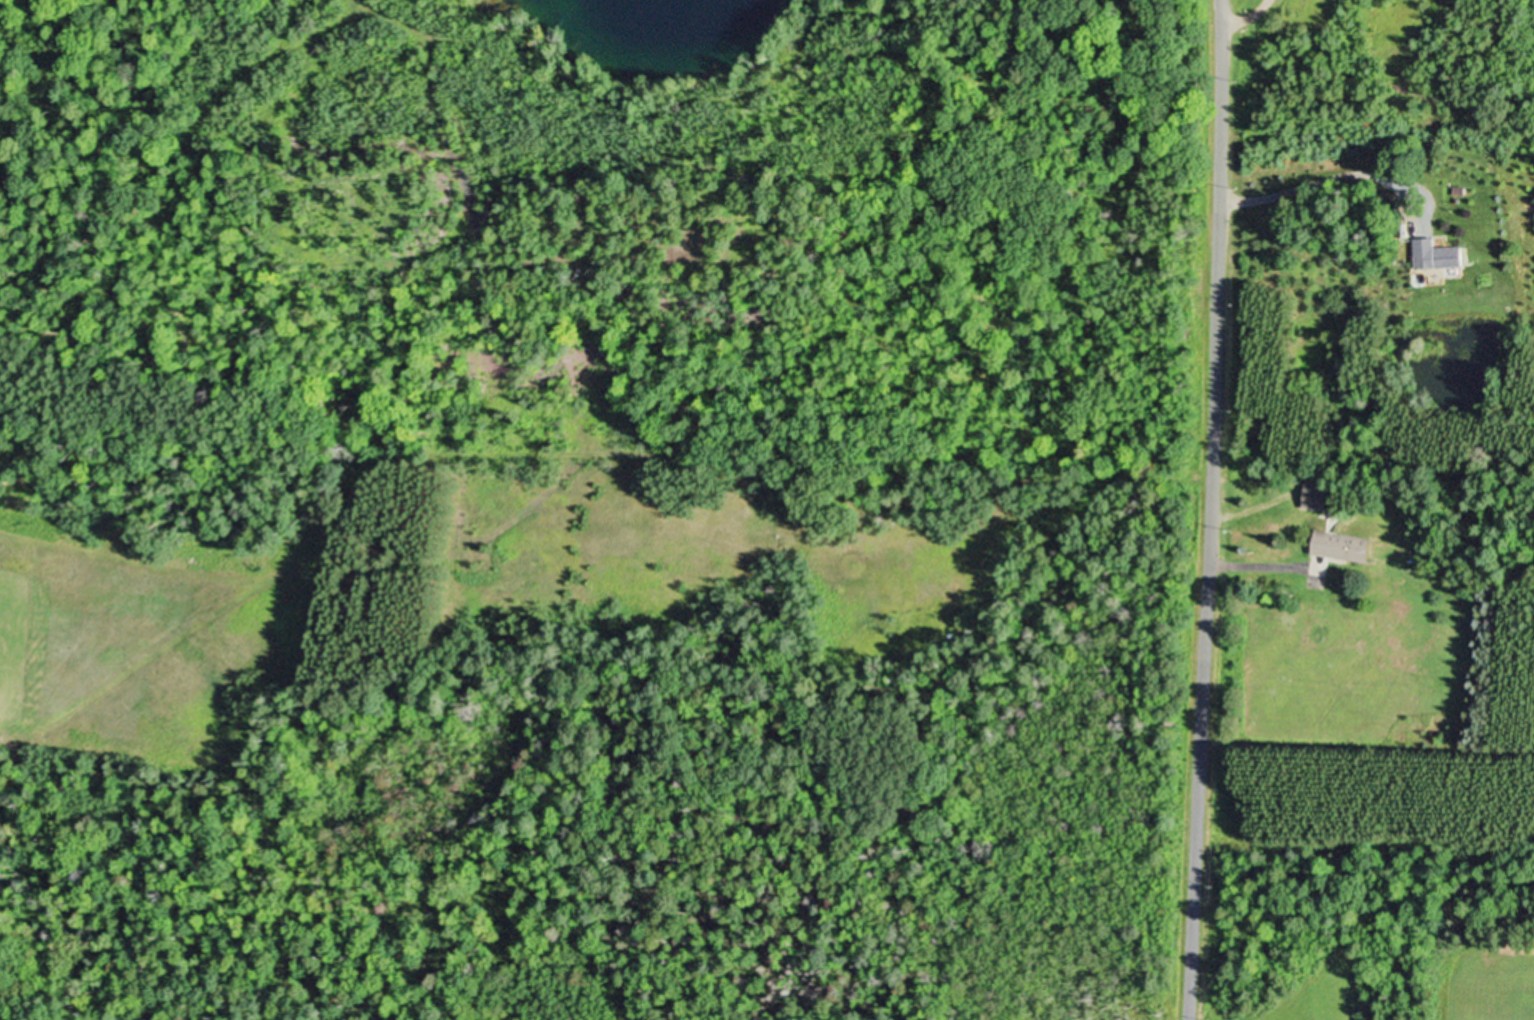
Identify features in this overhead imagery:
road: (1248, 17)
road: (1309, 183)
building: (1441, 254)
building: (1318, 492)
road: (1252, 506)
road: (1212, 510)
building: (1345, 545)
road: (1260, 563)

